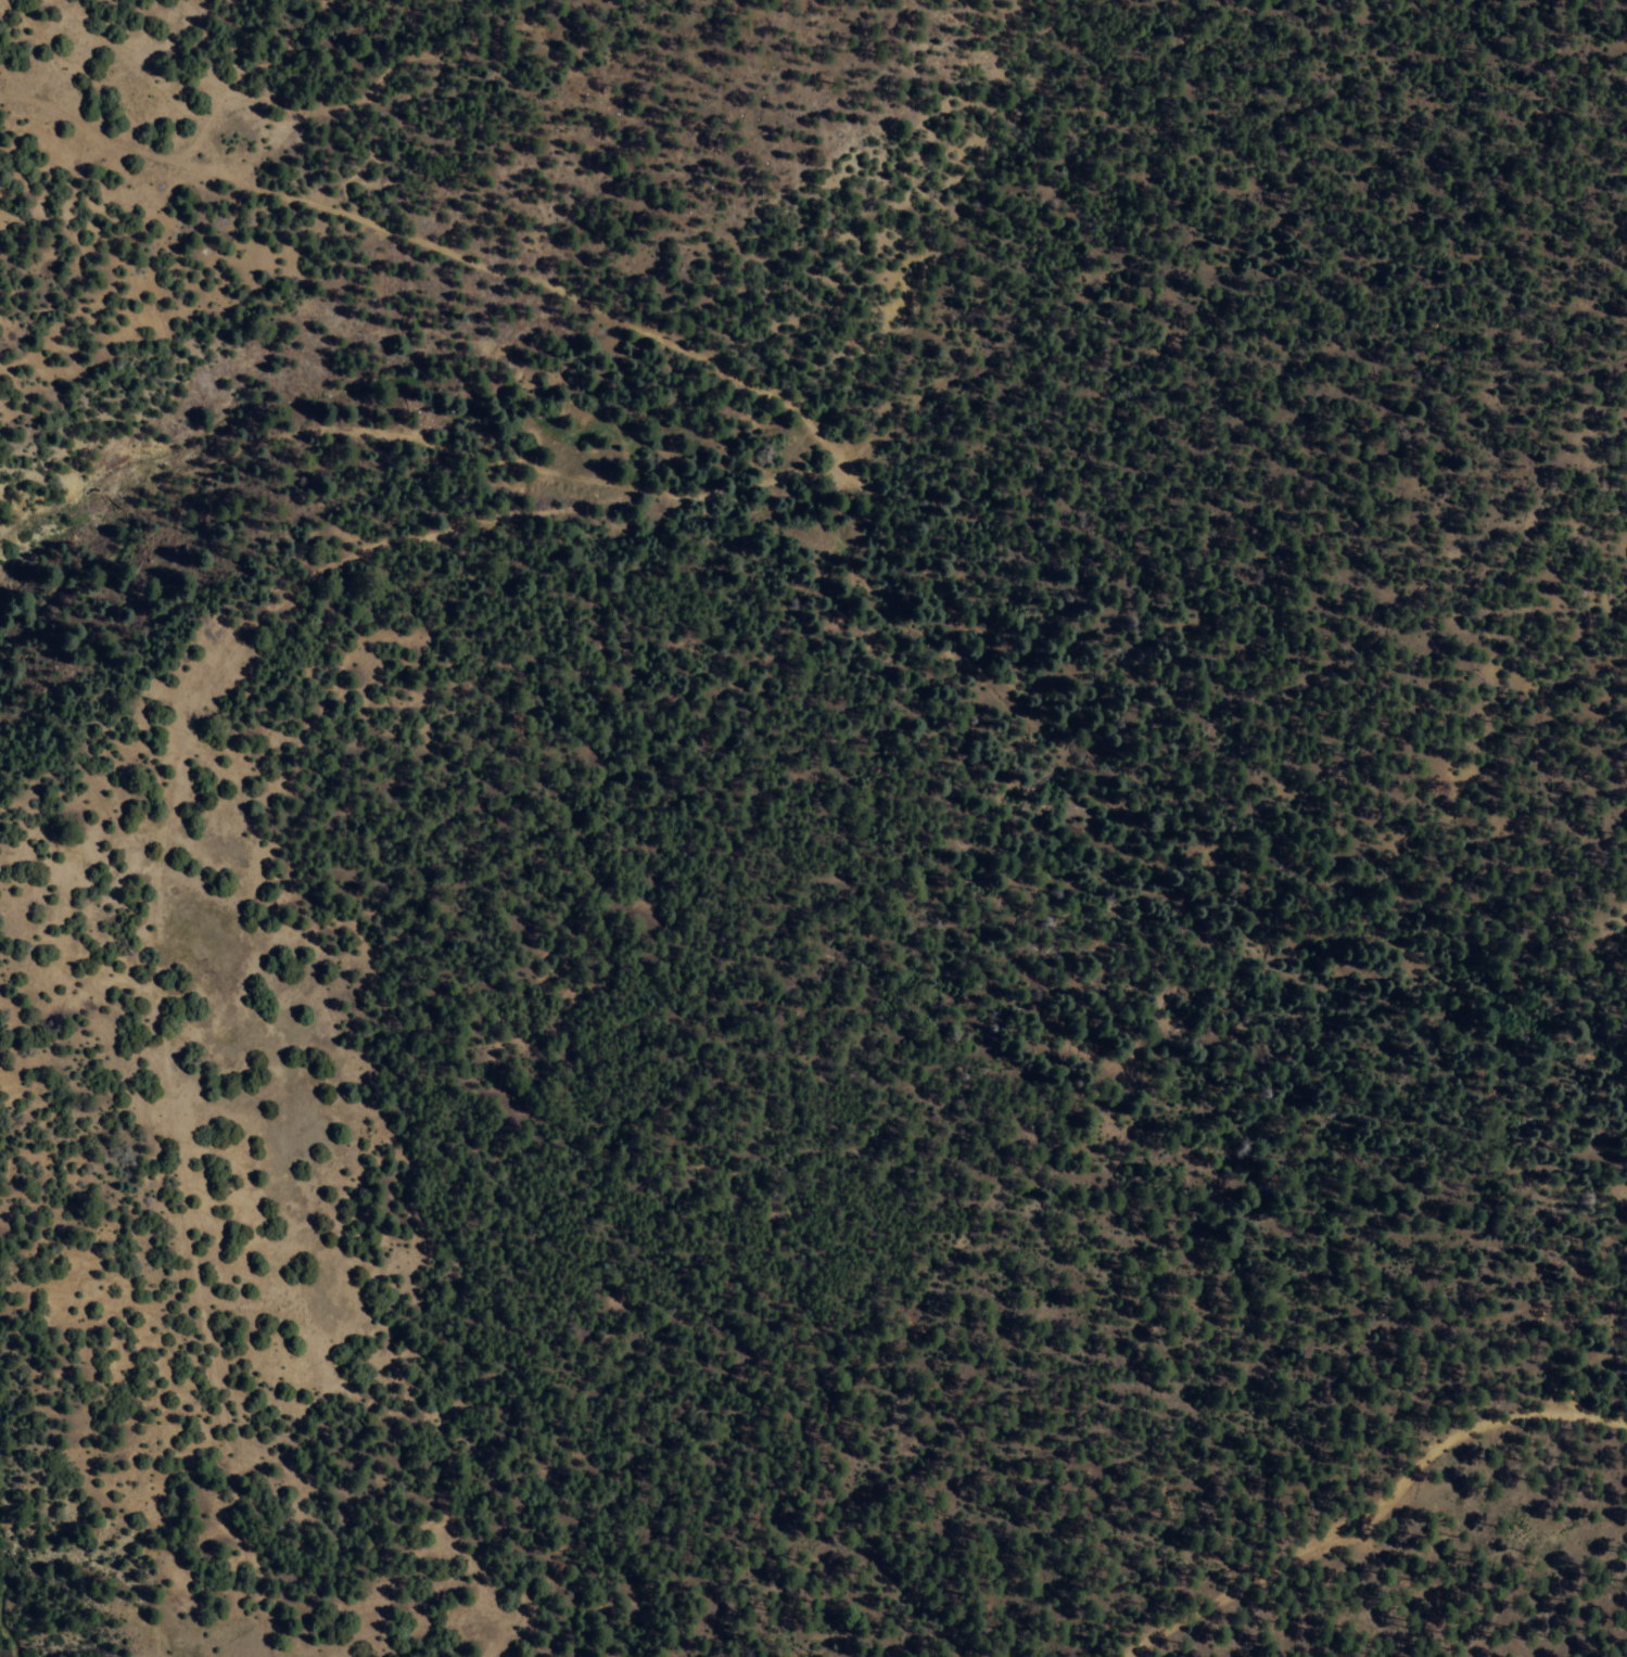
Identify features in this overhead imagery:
road: (1369, 1504)

